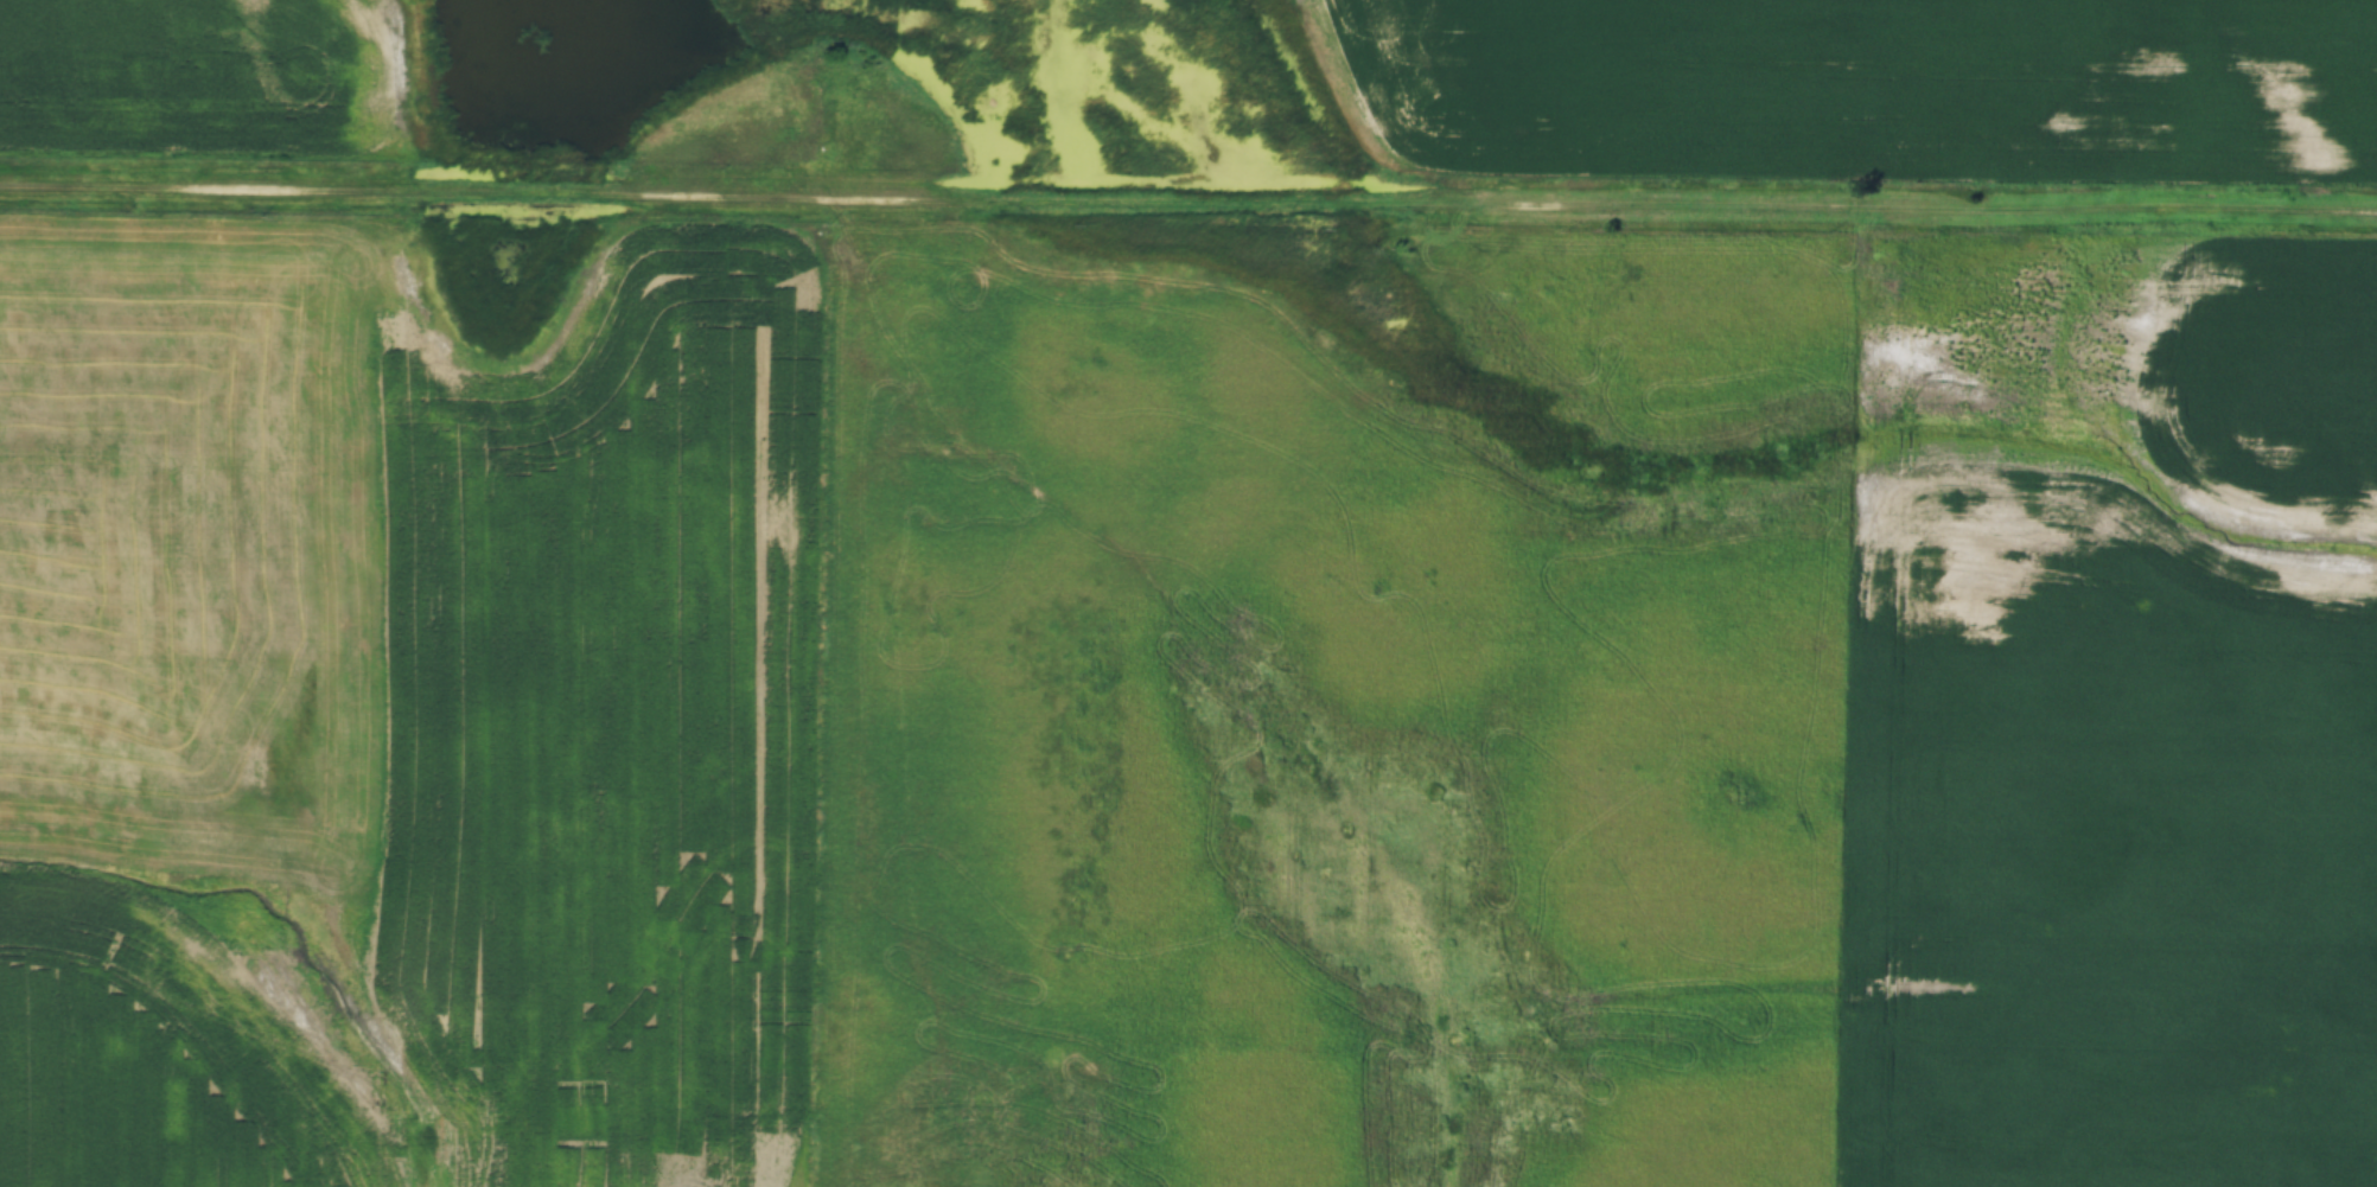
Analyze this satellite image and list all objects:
road: (1188, 197)

